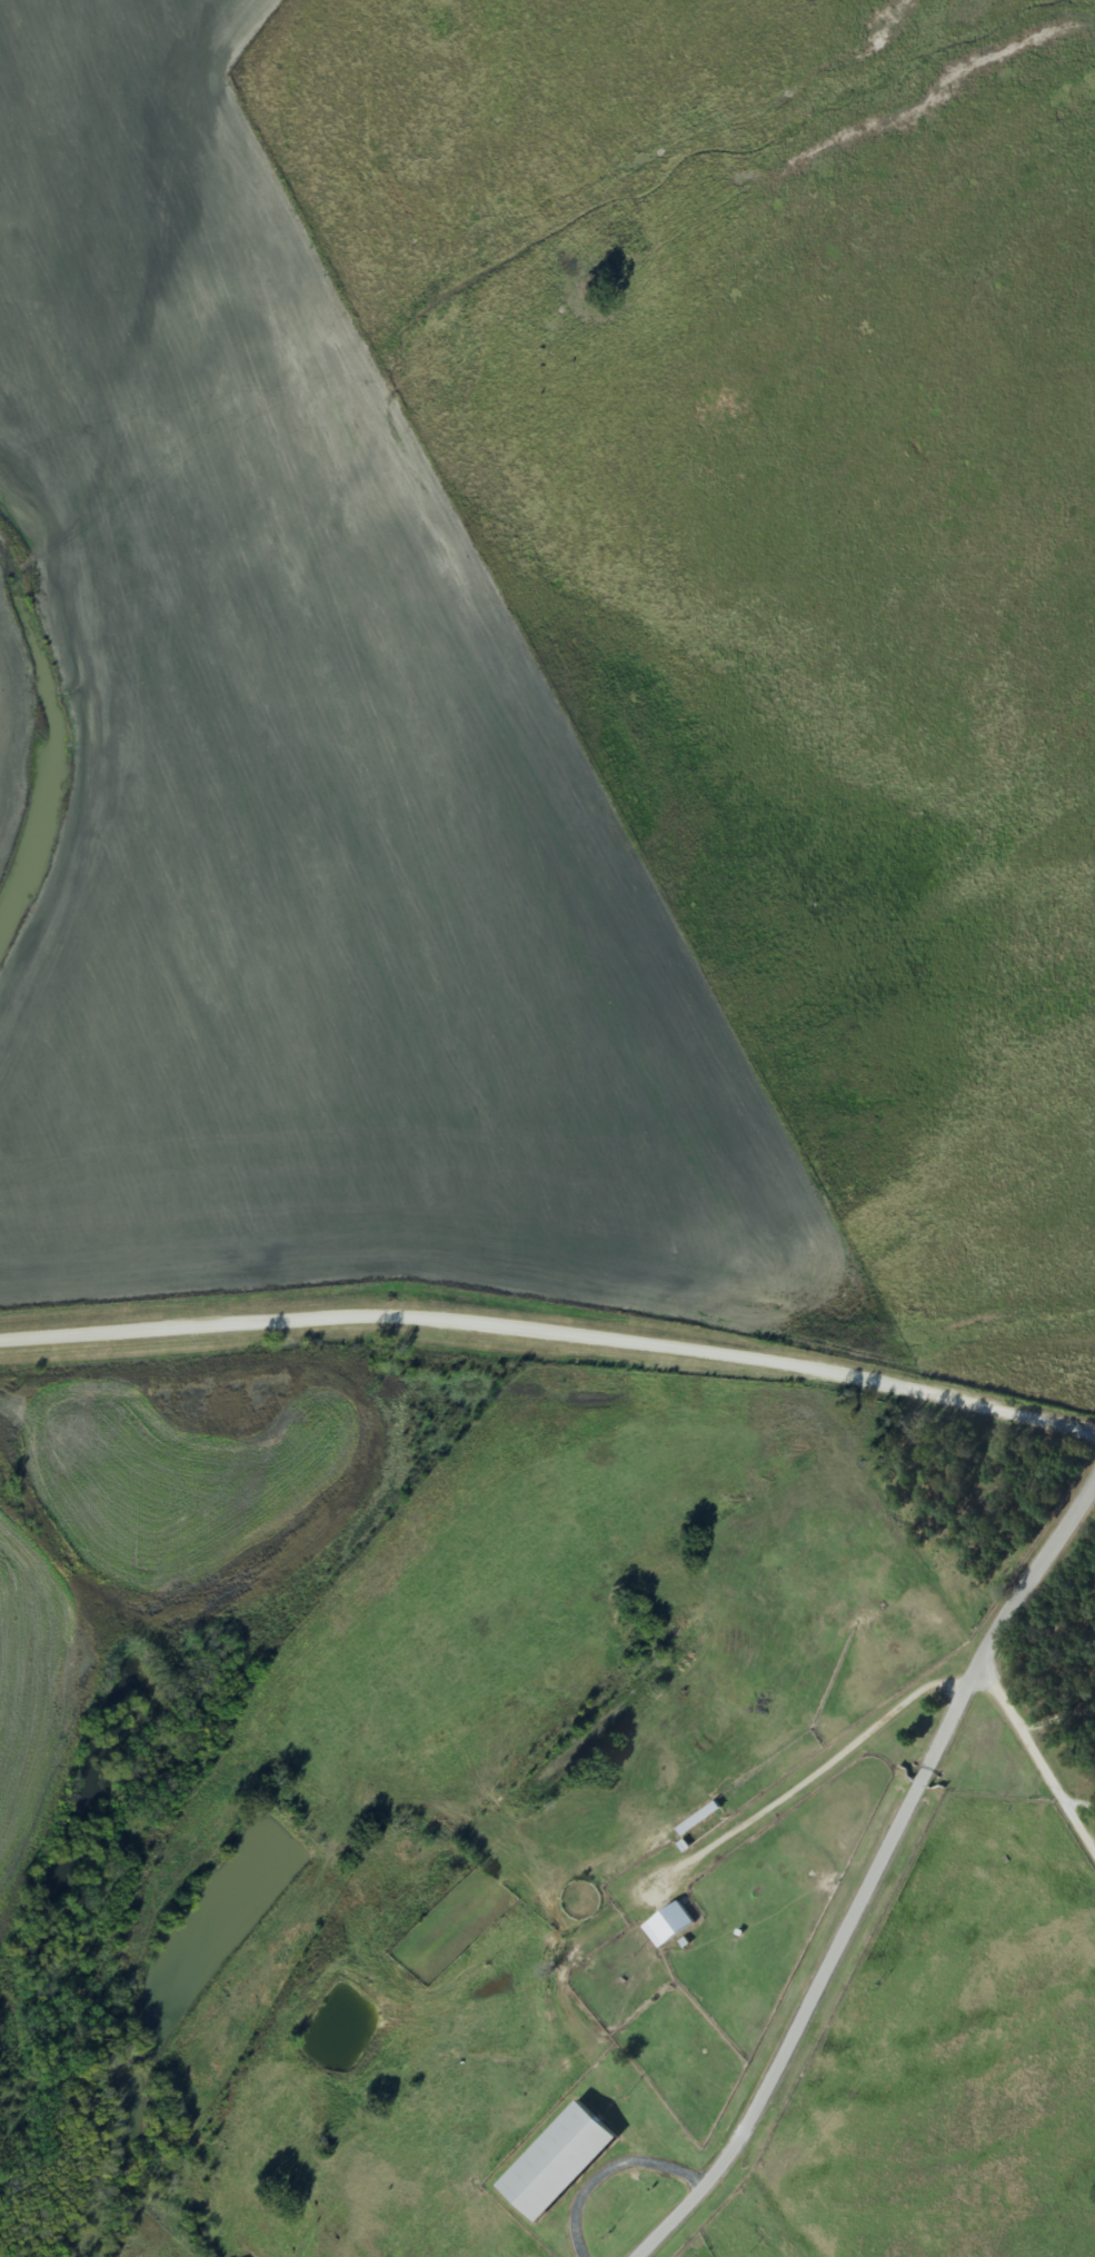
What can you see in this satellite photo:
road: (550, 1334)
road: (1034, 1752)
road: (1082, 1792)
building: (698, 1820)
road: (874, 1869)
building: (671, 1923)
building: (557, 2164)

